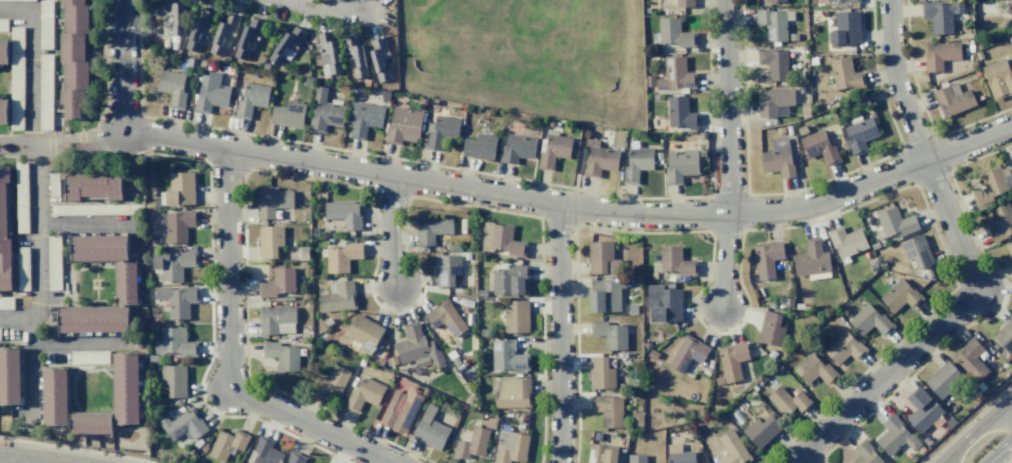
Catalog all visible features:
building: (829, 0)
building: (773, 1)
building: (850, 1)
building: (71, 2)
building: (684, 3)
road: (324, 10)
building: (940, 15)
building: (175, 16)
building: (75, 17)
building: (775, 23)
building: (845, 28)
building: (198, 30)
building: (222, 33)
building: (674, 33)
building: (247, 38)
building: (71, 45)
building: (285, 45)
building: (4, 50)
building: (329, 51)
building: (939, 54)
building: (354, 56)
building: (380, 59)
building: (773, 63)
road: (121, 65)
building: (75, 74)
building: (675, 74)
building: (845, 74)
building: (998, 78)
building: (172, 88)
building: (210, 93)
building: (251, 99)
building: (952, 99)
building: (773, 100)
building: (72, 103)
road: (728, 106)
building: (4, 111)
building: (323, 112)
building: (680, 113)
building: (288, 114)
building: (363, 119)
building: (402, 125)
building: (440, 131)
building: (860, 135)
road: (62, 140)
building: (479, 146)
building: (819, 147)
building: (517, 148)
building: (553, 150)
road: (64, 152)
building: (599, 158)
building: (778, 159)
building: (636, 164)
building: (680, 165)
building: (4, 175)
building: (92, 182)
building: (992, 185)
building: (128, 186)
building: (70, 187)
building: (113, 187)
building: (179, 188)
building: (271, 200)
road: (36, 204)
road: (572, 205)
building: (2, 211)
building: (344, 213)
building: (1001, 222)
road: (84, 224)
building: (895, 224)
building: (176, 225)
building: (431, 228)
road: (391, 229)
building: (269, 241)
building: (501, 241)
building: (847, 241)
building: (4, 245)
building: (98, 247)
building: (1009, 248)
building: (917, 251)
building: (342, 257)
building: (602, 258)
building: (767, 258)
building: (811, 259)
road: (725, 260)
building: (676, 262)
building: (173, 264)
road: (969, 267)
building: (447, 269)
building: (5, 271)
building: (511, 280)
building: (126, 283)
building: (277, 283)
building: (604, 295)
building: (900, 295)
building: (338, 297)
building: (176, 300)
building: (788, 302)
building: (664, 303)
building: (633, 308)
building: (516, 317)
building: (274, 318)
building: (445, 318)
road: (15, 319)
building: (91, 319)
building: (868, 320)
building: (772, 330)
building: (364, 333)
road: (559, 333)
building: (610, 334)
building: (1004, 336)
road: (77, 343)
building: (174, 343)
building: (417, 346)
building: (844, 348)
building: (687, 353)
building: (282, 356)
building: (507, 356)
building: (88, 357)
road: (230, 358)
building: (971, 359)
building: (732, 360)
building: (814, 370)
building: (601, 373)
building: (10, 375)
building: (942, 380)
building: (174, 381)
building: (331, 381)
building: (126, 389)
building: (511, 393)
building: (364, 394)
building: (55, 395)
building: (787, 400)
building: (401, 409)
building: (607, 410)
building: (922, 410)
building: (637, 420)
building: (91, 422)
building: (183, 424)
building: (429, 429)
building: (760, 430)
building: (896, 436)
road: (986, 438)
building: (227, 443)
building: (472, 443)
building: (510, 446)
building: (732, 449)
building: (263, 451)
building: (601, 453)
building: (866, 453)
building: (681, 457)
road: (29, 458)
building: (295, 458)
building: (636, 458)
road: (800, 459)
road: (49, 462)

